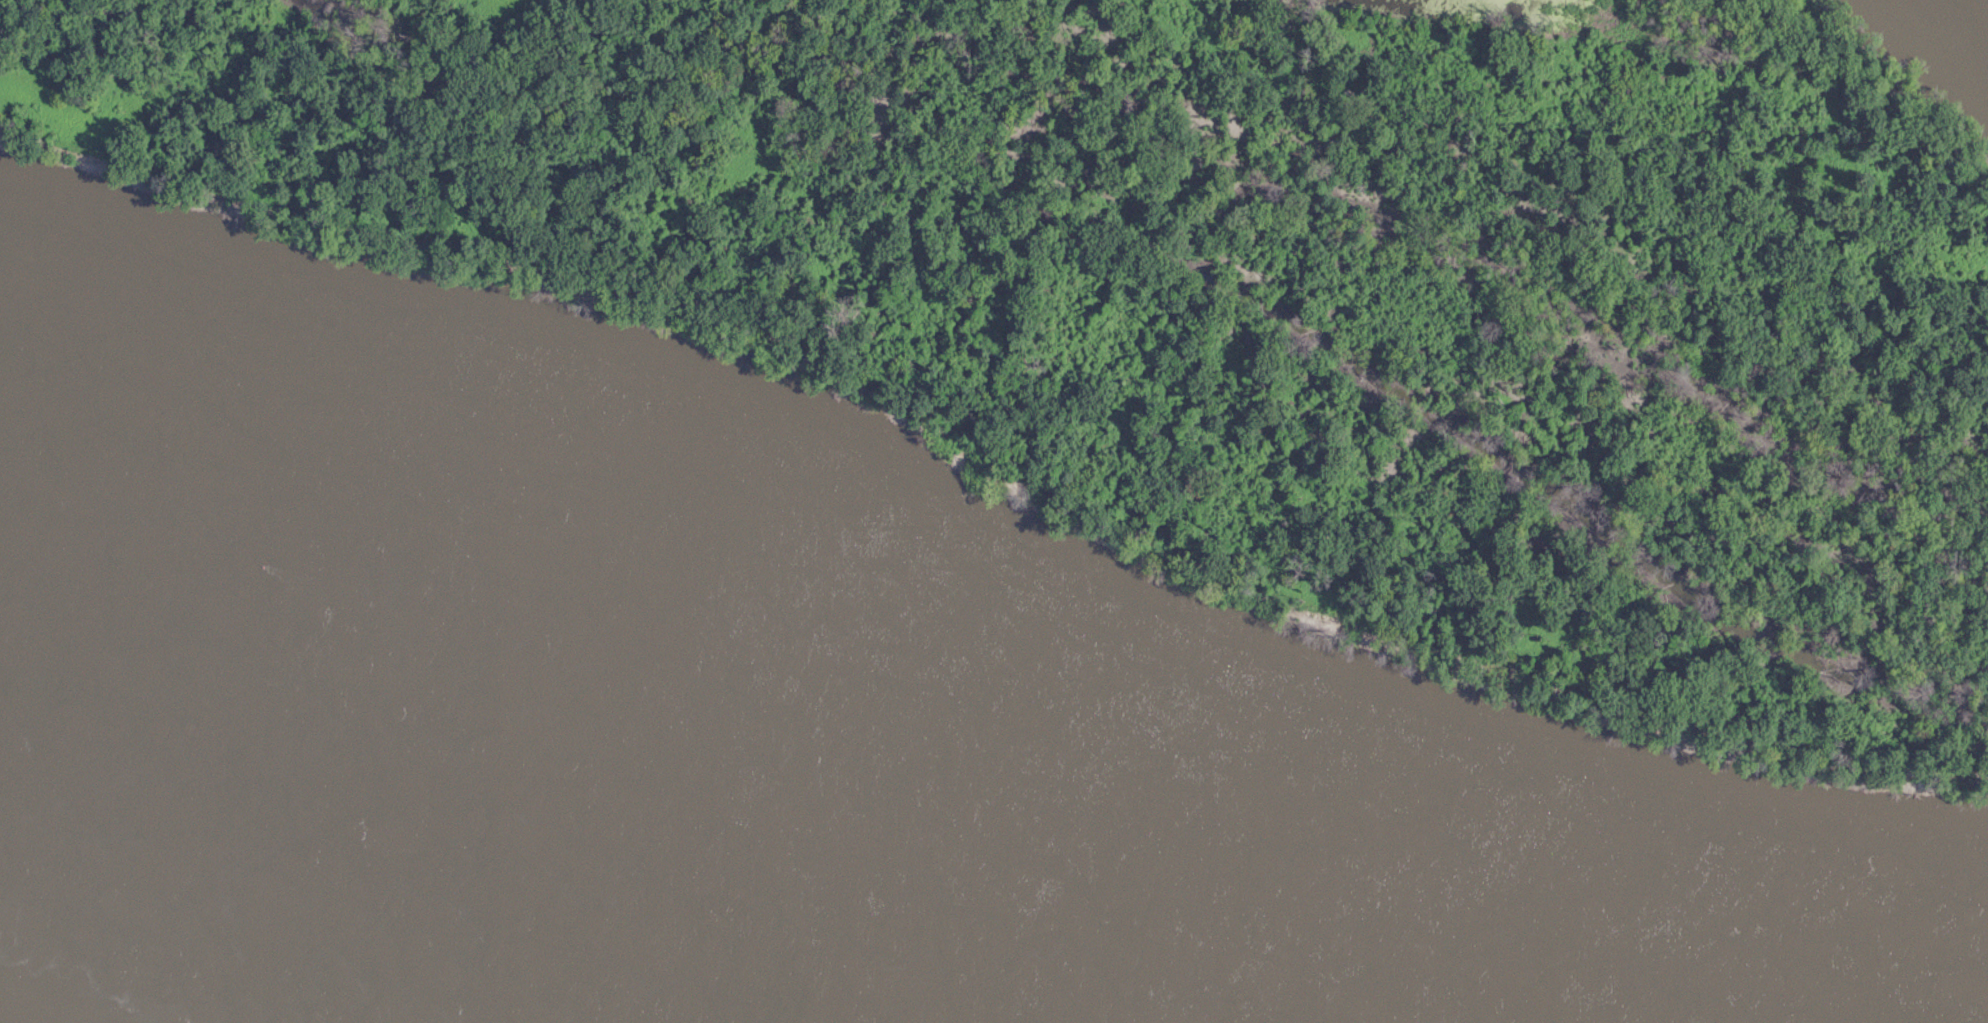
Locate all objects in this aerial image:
river: (646, 792)

